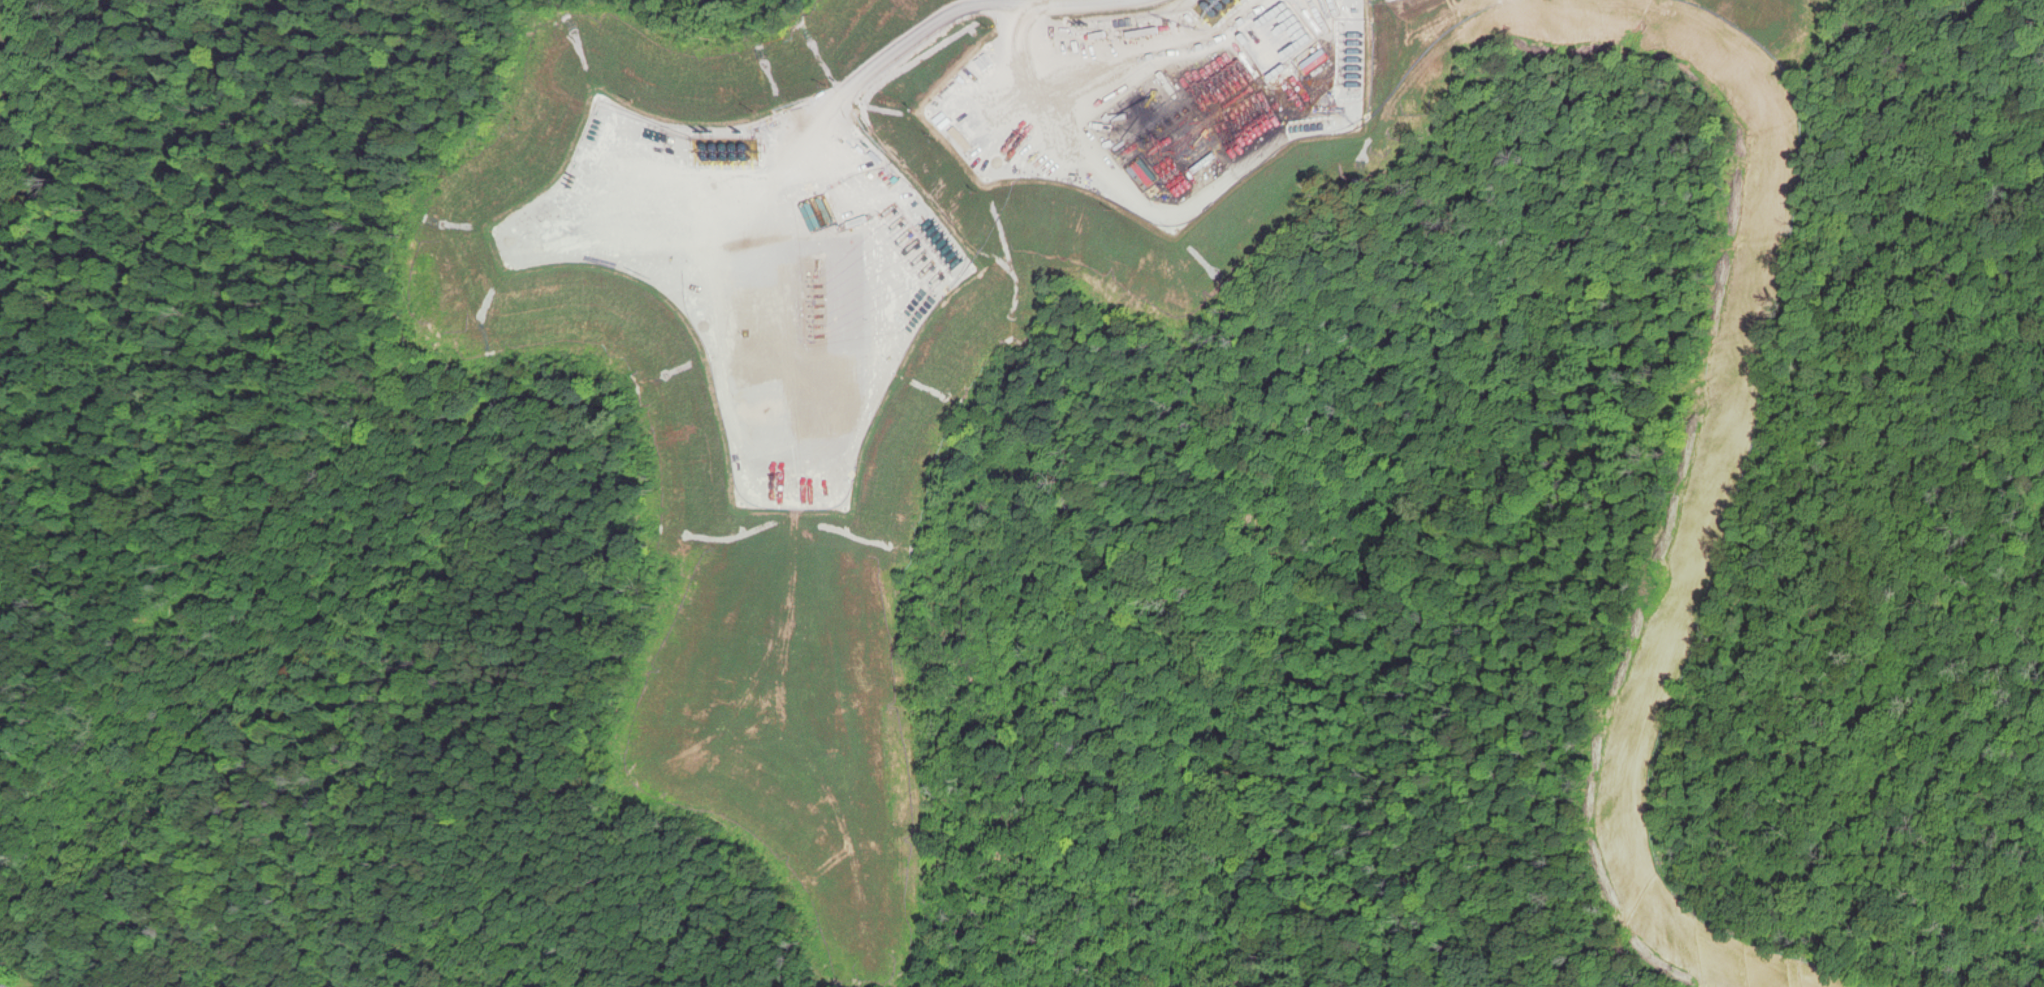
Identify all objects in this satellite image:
building: (4, 986)

